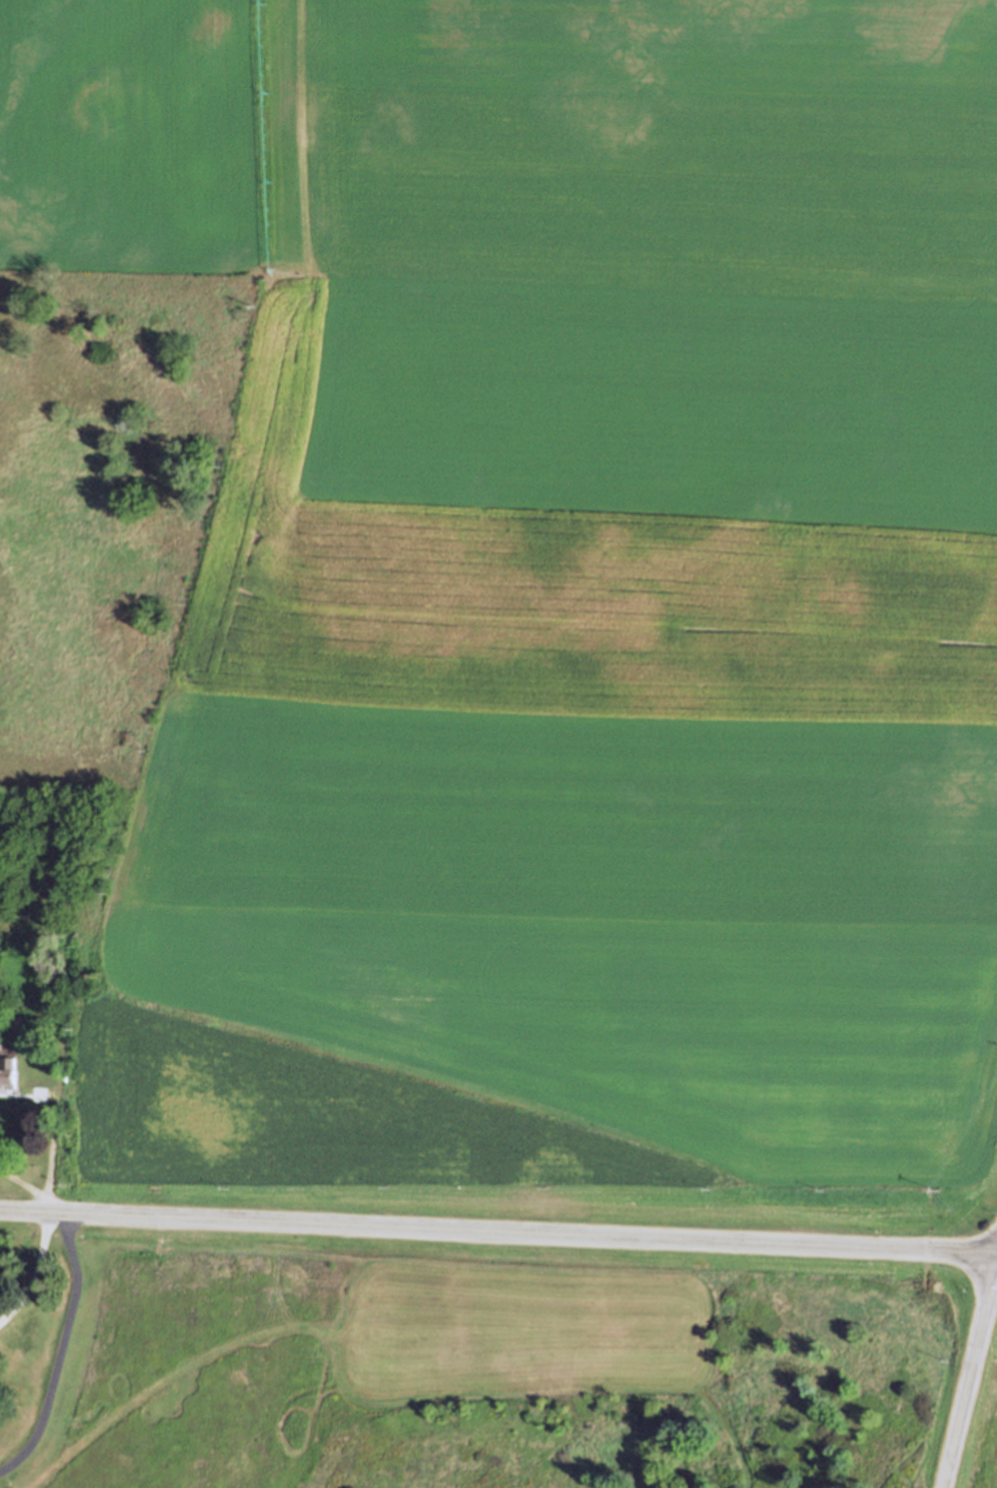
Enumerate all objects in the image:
building: (8, 1070)
road: (34, 1187)
road: (498, 1232)
road: (35, 1273)
road: (60, 1350)
road: (968, 1376)

